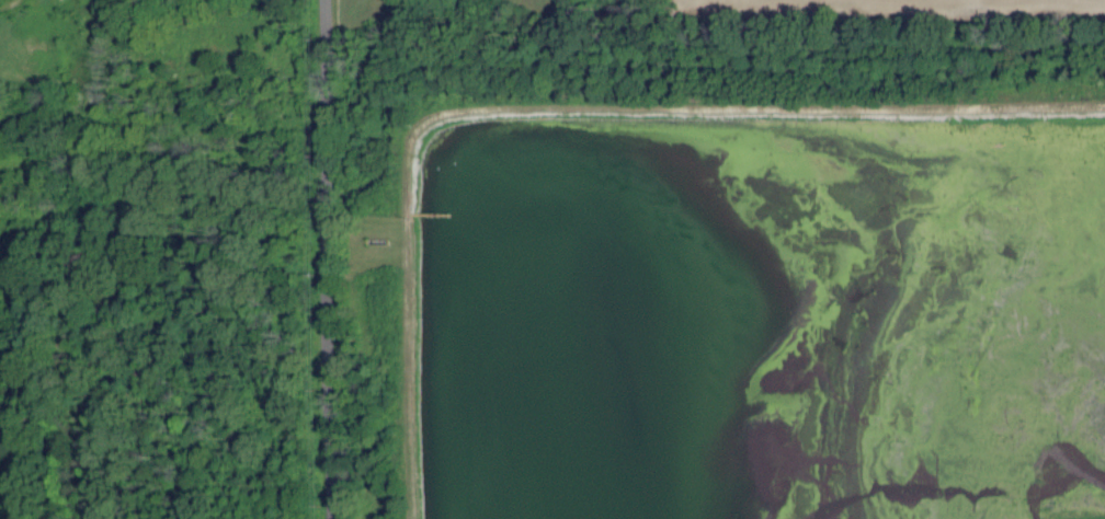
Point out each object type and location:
road: (324, 259)

